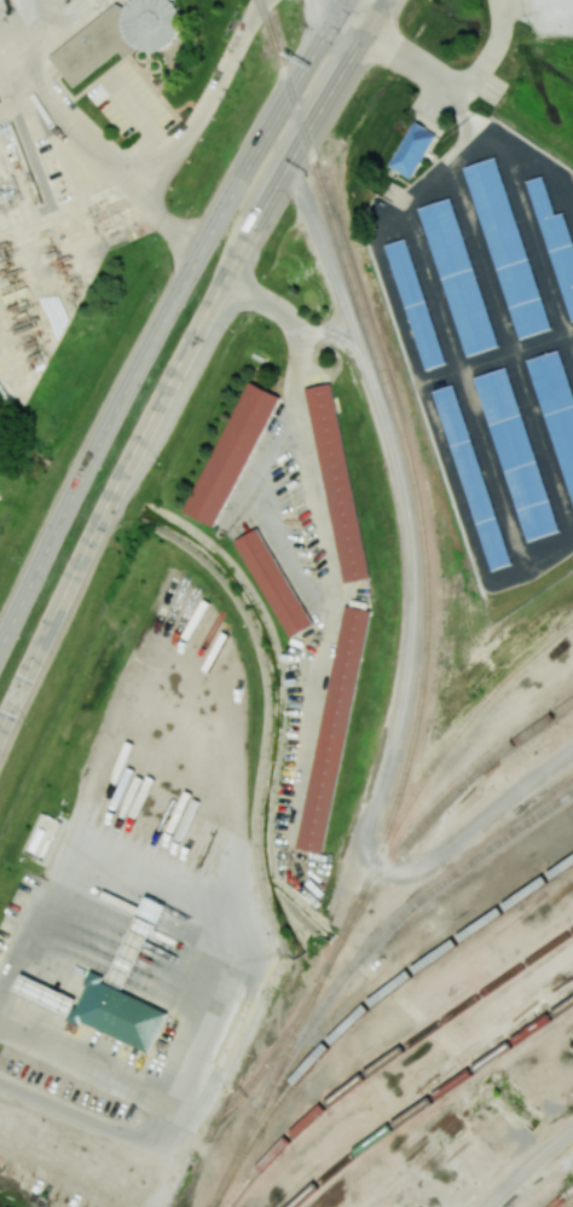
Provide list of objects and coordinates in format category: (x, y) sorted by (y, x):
railway: (264, 16)
building: (117, 37)
road: (442, 79)
road: (209, 104)
road: (83, 144)
building: (412, 150)
building: (556, 243)
building: (511, 249)
building: (463, 277)
building: (418, 306)
road: (164, 322)
road: (183, 359)
road: (302, 387)
building: (557, 406)
railway: (401, 434)
building: (232, 454)
building: (520, 460)
building: (477, 478)
building: (337, 483)
building: (274, 583)
building: (334, 729)
railway: (452, 735)
railway: (434, 809)
building: (155, 908)
railway: (403, 914)
railway: (348, 916)
road: (230, 942)
building: (129, 957)
railway: (323, 971)
building: (46, 994)
railway: (366, 1006)
building: (118, 1013)
railway: (294, 1034)
railway: (389, 1056)
railway: (266, 1061)
railway: (428, 1098)
road: (93, 1122)
railway: (248, 1131)
road: (173, 1151)
railway: (572, 1188)
railway: (561, 1197)
railway: (562, 1197)
railway: (407, 1205)

